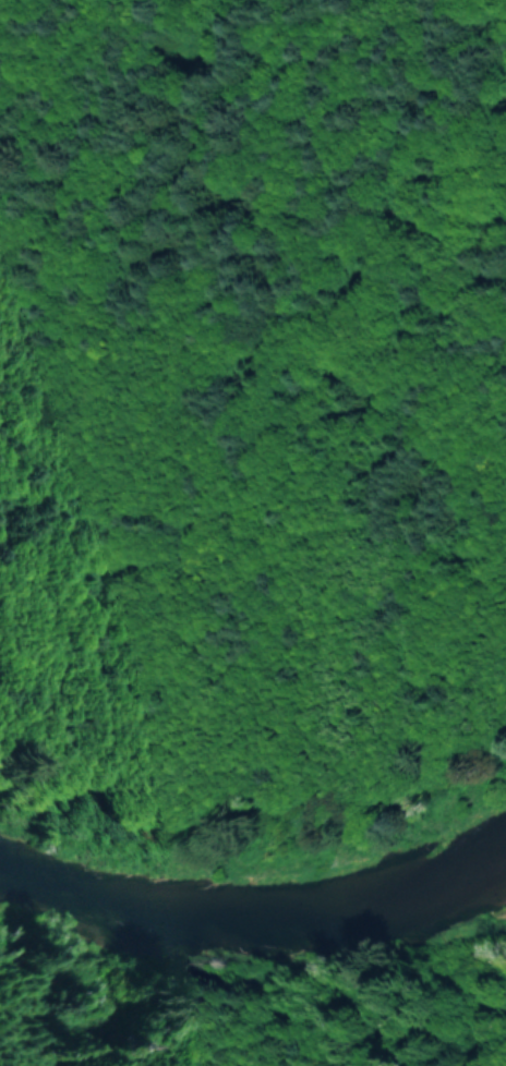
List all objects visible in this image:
river: (255, 911)

